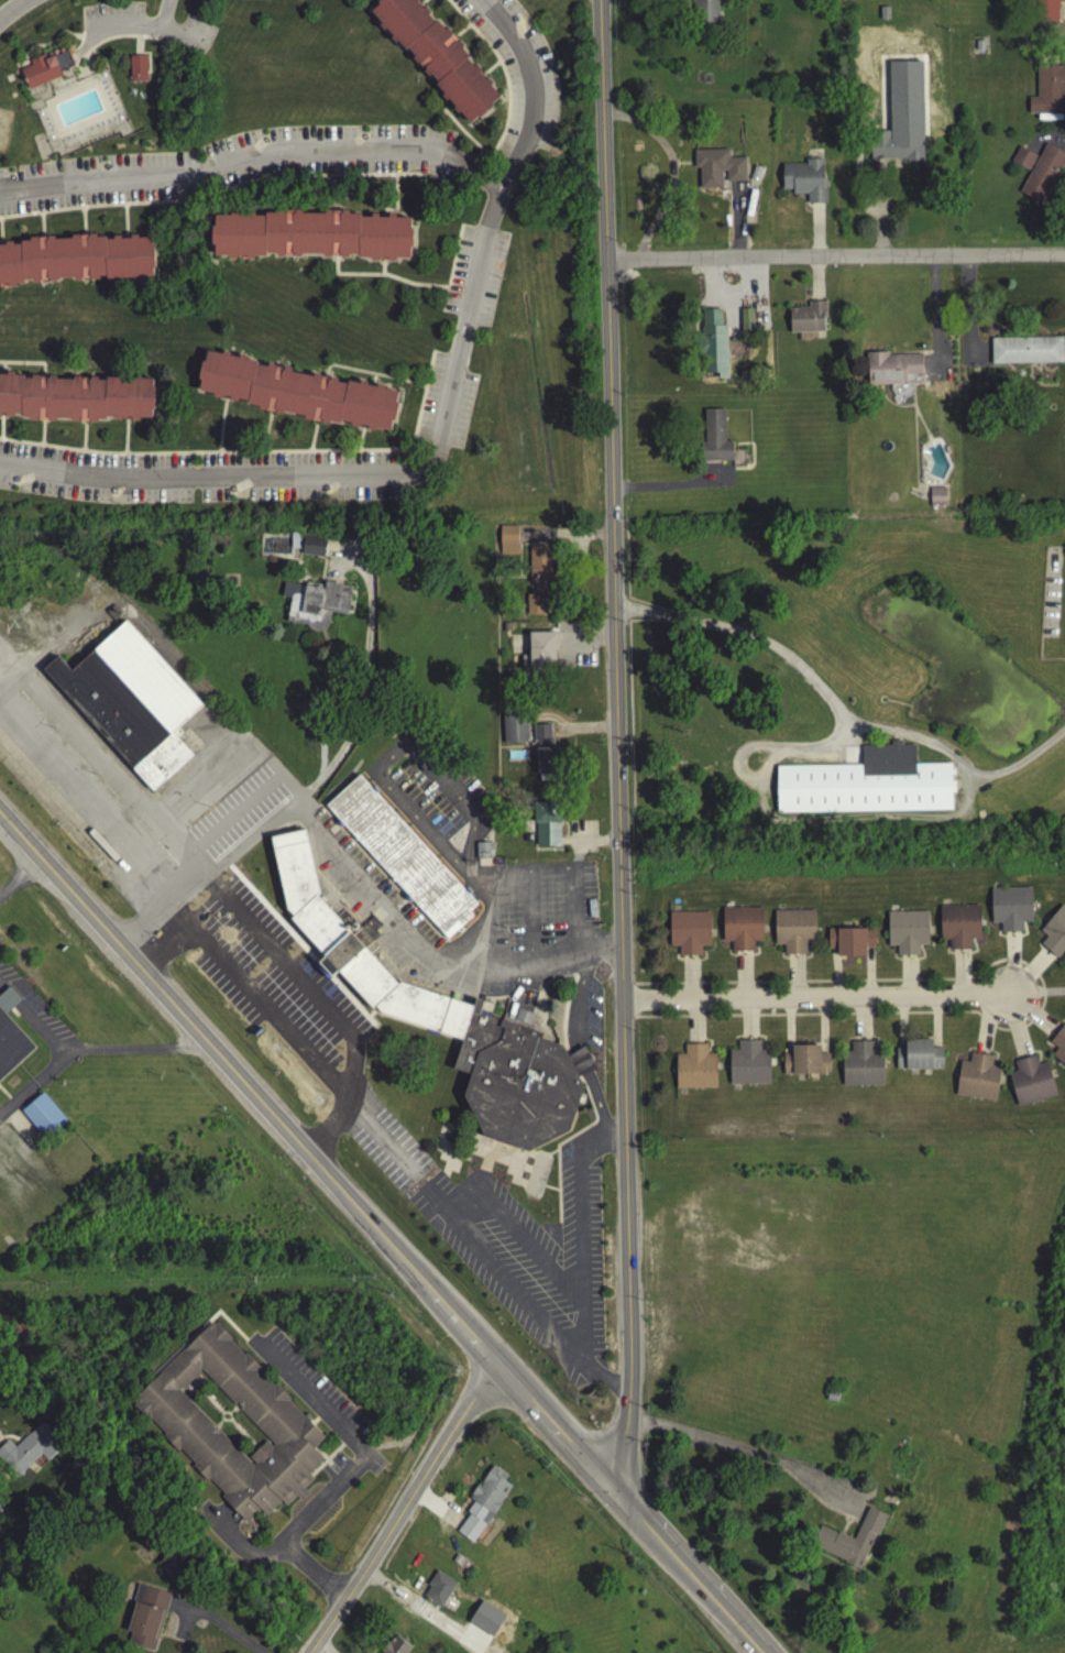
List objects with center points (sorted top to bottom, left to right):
road: (11, 9)
building: (1045, 12)
building: (704, 14)
road: (113, 24)
road: (168, 30)
park: (197, 35)
building: (439, 56)
building: (48, 67)
building: (138, 72)
building: (1047, 94)
building: (901, 120)
road: (253, 155)
building: (1022, 162)
building: (717, 172)
building: (1043, 178)
building: (804, 183)
building: (315, 236)
building: (77, 260)
road: (835, 261)
building: (806, 324)
building: (712, 347)
building: (1026, 353)
building: (892, 374)
building: (300, 390)
building: (77, 396)
road: (439, 431)
building: (714, 441)
building: (936, 500)
building: (507, 544)
building: (295, 545)
building: (312, 549)
building: (539, 582)
building: (316, 607)
building: (542, 654)
road: (11, 658)
road: (367, 677)
road: (328, 701)
building: (130, 707)
road: (616, 711)
building: (514, 731)
building: (545, 753)
road: (103, 760)
road: (1019, 768)
road: (767, 770)
road: (746, 782)
building: (865, 788)
road: (244, 802)
building: (546, 828)
building: (482, 855)
building: (399, 862)
road: (208, 866)
road: (21, 879)
building: (1019, 911)
building: (1000, 912)
road: (171, 924)
building: (949, 929)
building: (968, 929)
building: (751, 930)
building: (732, 931)
building: (1053, 931)
building: (793, 933)
building: (367, 934)
building: (898, 934)
building: (916, 934)
building: (688, 935)
building: (837, 944)
building: (859, 944)
road: (426, 948)
building: (1057, 949)
road: (152, 951)
road: (1009, 967)
road: (309, 975)
road: (1028, 975)
road: (835, 976)
road: (869, 976)
road: (960, 976)
road: (743, 978)
road: (908, 978)
road: (794, 979)
road: (689, 981)
road: (577, 993)
road: (1036, 997)
road: (1042, 997)
road: (815, 1001)
road: (630, 1005)
road: (297, 1012)
road: (1032, 1017)
road: (189, 1023)
road: (748, 1023)
road: (860, 1023)
road: (694, 1025)
road: (935, 1026)
building: (444, 1027)
road: (900, 1027)
road: (988, 1028)
road: (822, 1029)
road: (788, 1030)
road: (1015, 1030)
building: (1061, 1036)
building: (10, 1040)
building: (1058, 1052)
road: (96, 1055)
road: (581, 1057)
building: (907, 1059)
building: (927, 1059)
building: (793, 1064)
building: (814, 1064)
building: (870, 1068)
building: (738, 1069)
building: (758, 1069)
building: (852, 1069)
building: (694, 1071)
building: (976, 1081)
building: (1039, 1082)
road: (35, 1086)
building: (1021, 1087)
road: (597, 1101)
building: (42, 1120)
parking lot: (1, 1121)
road: (398, 1161)
road: (579, 1229)
road: (407, 1267)
road: (515, 1287)
road: (463, 1332)
road: (605, 1378)
parking lot: (318, 1412)
building: (184, 1431)
road: (553, 1431)
building: (901, 1445)
road: (350, 1446)
building: (29, 1453)
road: (750, 1456)
road: (621, 1460)
traffic signals: (616, 1499)
building: (483, 1507)
road: (403, 1509)
road: (222, 1520)
road: (623, 1539)
building: (852, 1543)
road: (234, 1547)
road: (684, 1576)
road: (310, 1577)
building: (438, 1592)
building: (145, 1621)
building: (396, 1647)

